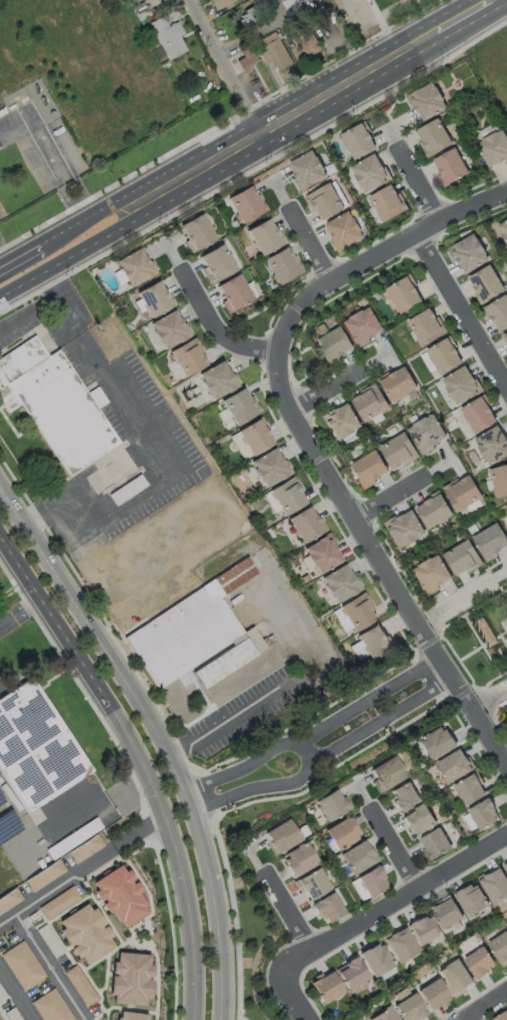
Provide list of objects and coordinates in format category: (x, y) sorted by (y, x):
building: (150, 2)
building: (218, 3)
road: (365, 11)
road: (458, 14)
building: (249, 18)
building: (166, 37)
road: (388, 37)
building: (307, 42)
building: (273, 51)
building: (244, 57)
road: (225, 66)
building: (429, 101)
road: (291, 112)
building: (434, 138)
building: (357, 141)
building: (493, 149)
building: (452, 168)
building: (307, 171)
building: (371, 174)
road: (419, 183)
building: (325, 202)
building: (246, 203)
building: (388, 204)
road: (90, 214)
building: (504, 230)
building: (345, 232)
building: (197, 233)
road: (401, 233)
building: (265, 238)
road: (311, 245)
road: (78, 251)
building: (470, 254)
road: (19, 256)
building: (217, 265)
building: (134, 268)
building: (281, 268)
building: (487, 285)
building: (234, 294)
building: (404, 296)
building: (154, 301)
road: (269, 308)
road: (462, 308)
road: (66, 311)
building: (499, 315)
building: (364, 328)
road: (215, 329)
building: (427, 330)
building: (168, 331)
building: (505, 340)
building: (335, 345)
building: (445, 358)
building: (187, 360)
road: (304, 375)
building: (216, 381)
building: (399, 386)
building: (462, 388)
road: (326, 391)
building: (54, 404)
building: (370, 405)
building: (239, 407)
building: (478, 417)
building: (341, 424)
building: (428, 434)
road: (308, 439)
building: (255, 440)
building: (492, 447)
building: (399, 453)
building: (371, 470)
building: (269, 471)
building: (500, 482)
road: (164, 486)
building: (128, 489)
building: (464, 494)
road: (390, 496)
building: (287, 499)
building: (435, 513)
building: (506, 519)
building: (305, 526)
building: (407, 532)
building: (492, 542)
building: (321, 557)
building: (463, 560)
building: (432, 575)
building: (339, 587)
road: (455, 599)
road: (474, 608)
road: (20, 614)
building: (358, 615)
building: (485, 633)
building: (193, 642)
building: (375, 642)
road: (104, 643)
road: (482, 645)
road: (472, 652)
road: (466, 671)
road: (87, 673)
road: (404, 679)
road: (286, 695)
road: (416, 697)
road: (489, 697)
road: (493, 710)
road: (296, 726)
road: (395, 730)
building: (440, 742)
road: (279, 748)
building: (36, 749)
road: (308, 751)
building: (455, 767)
building: (388, 772)
road: (294, 780)
building: (471, 791)
road: (288, 795)
building: (405, 797)
building: (332, 806)
building: (485, 816)
building: (420, 820)
road: (138, 831)
building: (343, 835)
road: (44, 836)
building: (282, 837)
building: (435, 843)
road: (204, 845)
building: (83, 848)
road: (390, 850)
building: (358, 858)
building: (299, 860)
building: (506, 866)
building: (43, 875)
road: (56, 885)
building: (314, 885)
building: (367, 886)
building: (496, 887)
building: (118, 894)
building: (8, 898)
road: (394, 898)
building: (473, 901)
building: (57, 902)
building: (328, 909)
road: (285, 911)
road: (150, 914)
road: (234, 914)
building: (448, 914)
road: (187, 916)
road: (109, 922)
building: (424, 929)
building: (84, 932)
park: (247, 935)
building: (48, 940)
building: (401, 946)
building: (500, 947)
road: (223, 949)
road: (102, 957)
building: (376, 961)
building: (481, 963)
building: (24, 966)
road: (52, 966)
building: (351, 974)
building: (457, 977)
building: (128, 978)
building: (79, 985)
building: (328, 988)
road: (16, 994)
building: (434, 994)
road: (293, 997)
building: (52, 1006)
parking lot: (8, 1007)
road: (486, 1007)
road: (104, 1008)
building: (409, 1008)
building: (384, 1015)
road: (105, 1016)
building: (130, 1016)
building: (502, 1017)

